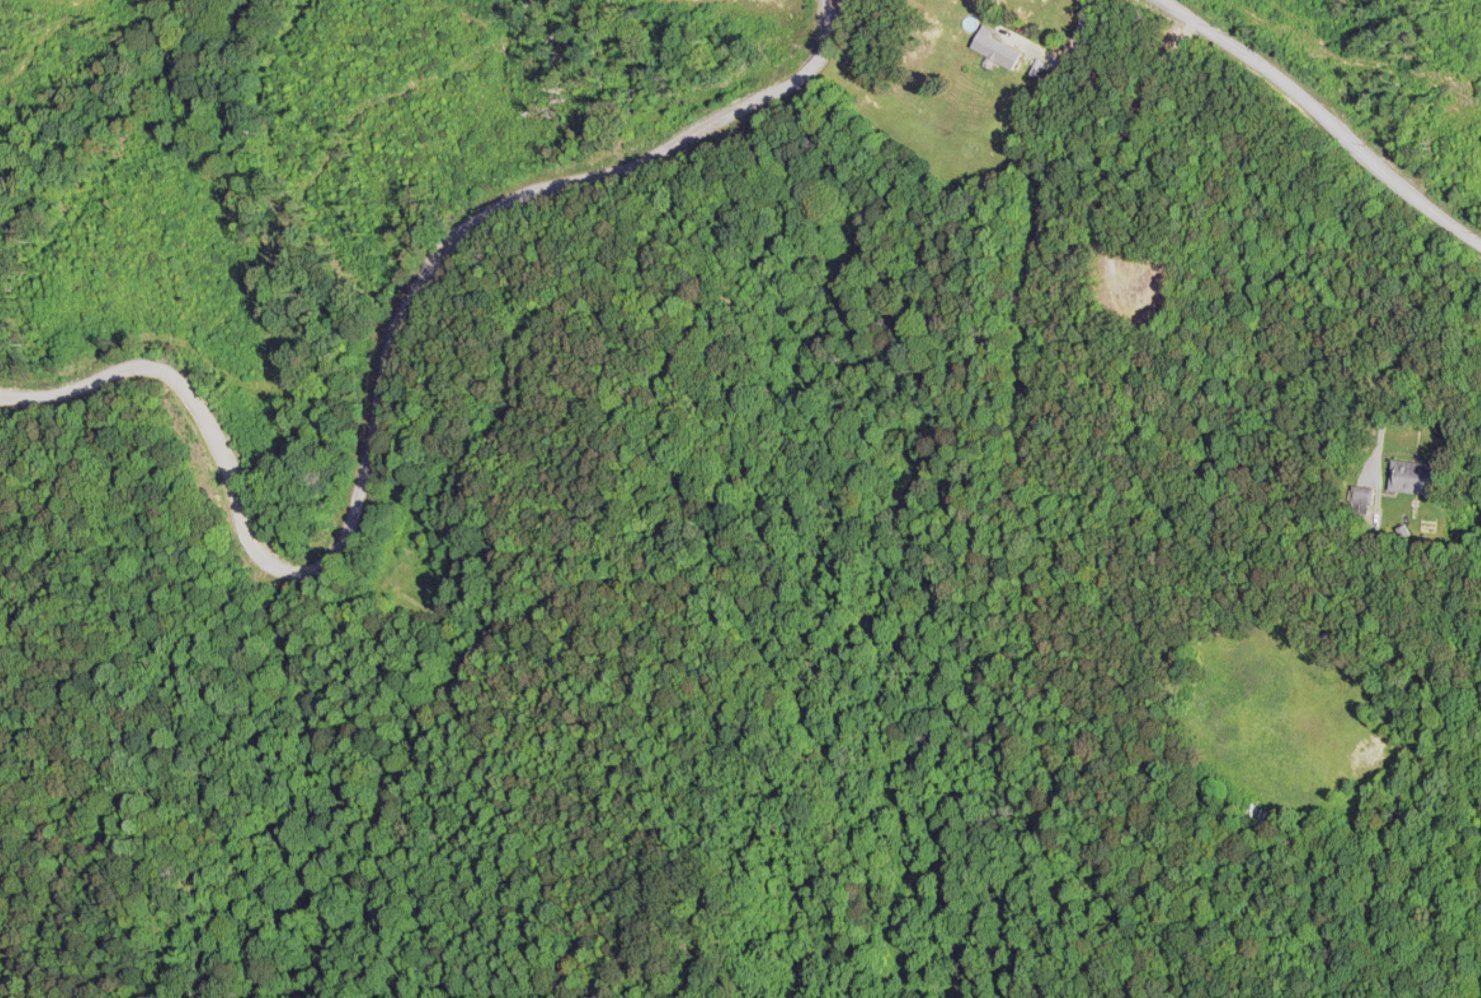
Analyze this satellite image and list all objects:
building: (991, 50)
road: (1322, 115)
road: (1396, 371)
road: (376, 385)
building: (1410, 478)
building: (1360, 496)

